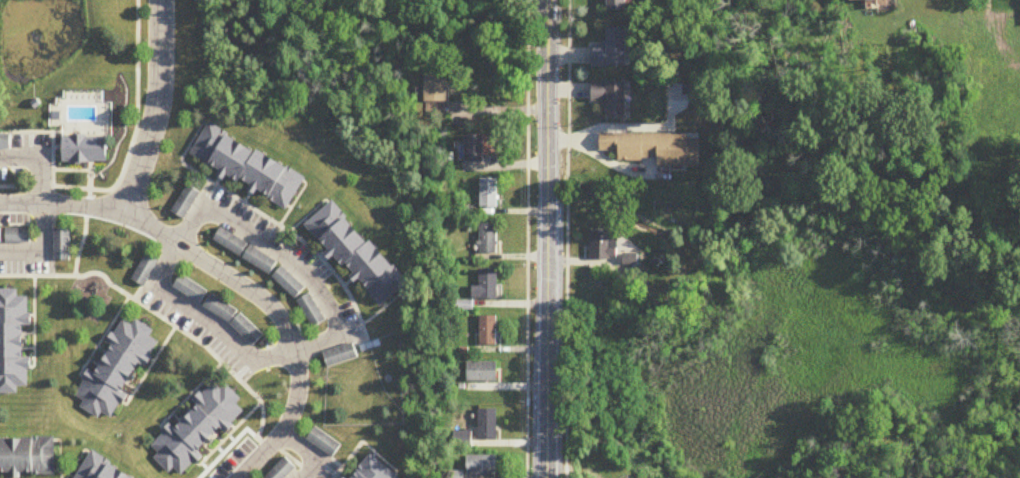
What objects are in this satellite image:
building: (860, 0)
building: (617, 5)
fountain: (31, 40)
building: (611, 51)
building: (436, 88)
building: (611, 98)
road: (157, 109)
road: (612, 127)
building: (654, 149)
building: (84, 150)
building: (474, 150)
building: (248, 166)
road: (617, 167)
building: (488, 194)
road: (43, 201)
building: (0, 236)
building: (17, 236)
road: (547, 238)
road: (566, 238)
building: (487, 239)
road: (526, 239)
building: (61, 245)
building: (604, 246)
building: (357, 255)
road: (289, 257)
building: (144, 270)
road: (229, 278)
building: (486, 286)
building: (189, 290)
road: (205, 319)
building: (233, 320)
building: (488, 331)
building: (13, 342)
park: (794, 355)
building: (339, 357)
building: (115, 371)
building: (481, 373)
building: (487, 426)
building: (197, 429)
building: (323, 443)
road: (309, 450)
building: (27, 458)
building: (481, 466)
building: (101, 469)
building: (281, 470)
building: (373, 470)

